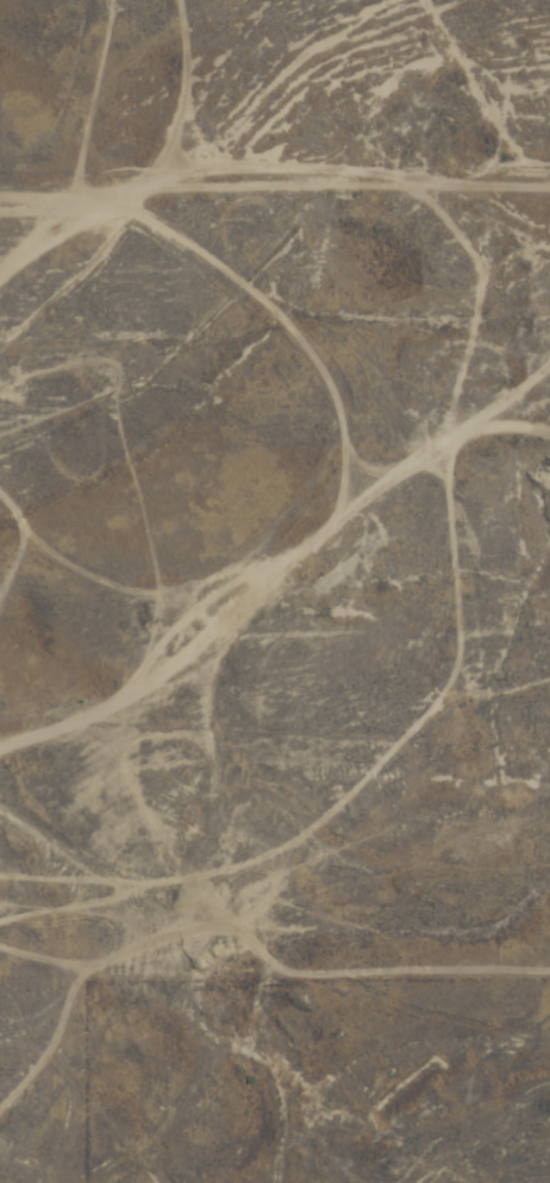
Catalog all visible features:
road: (487, 1059)
road: (414, 1120)

